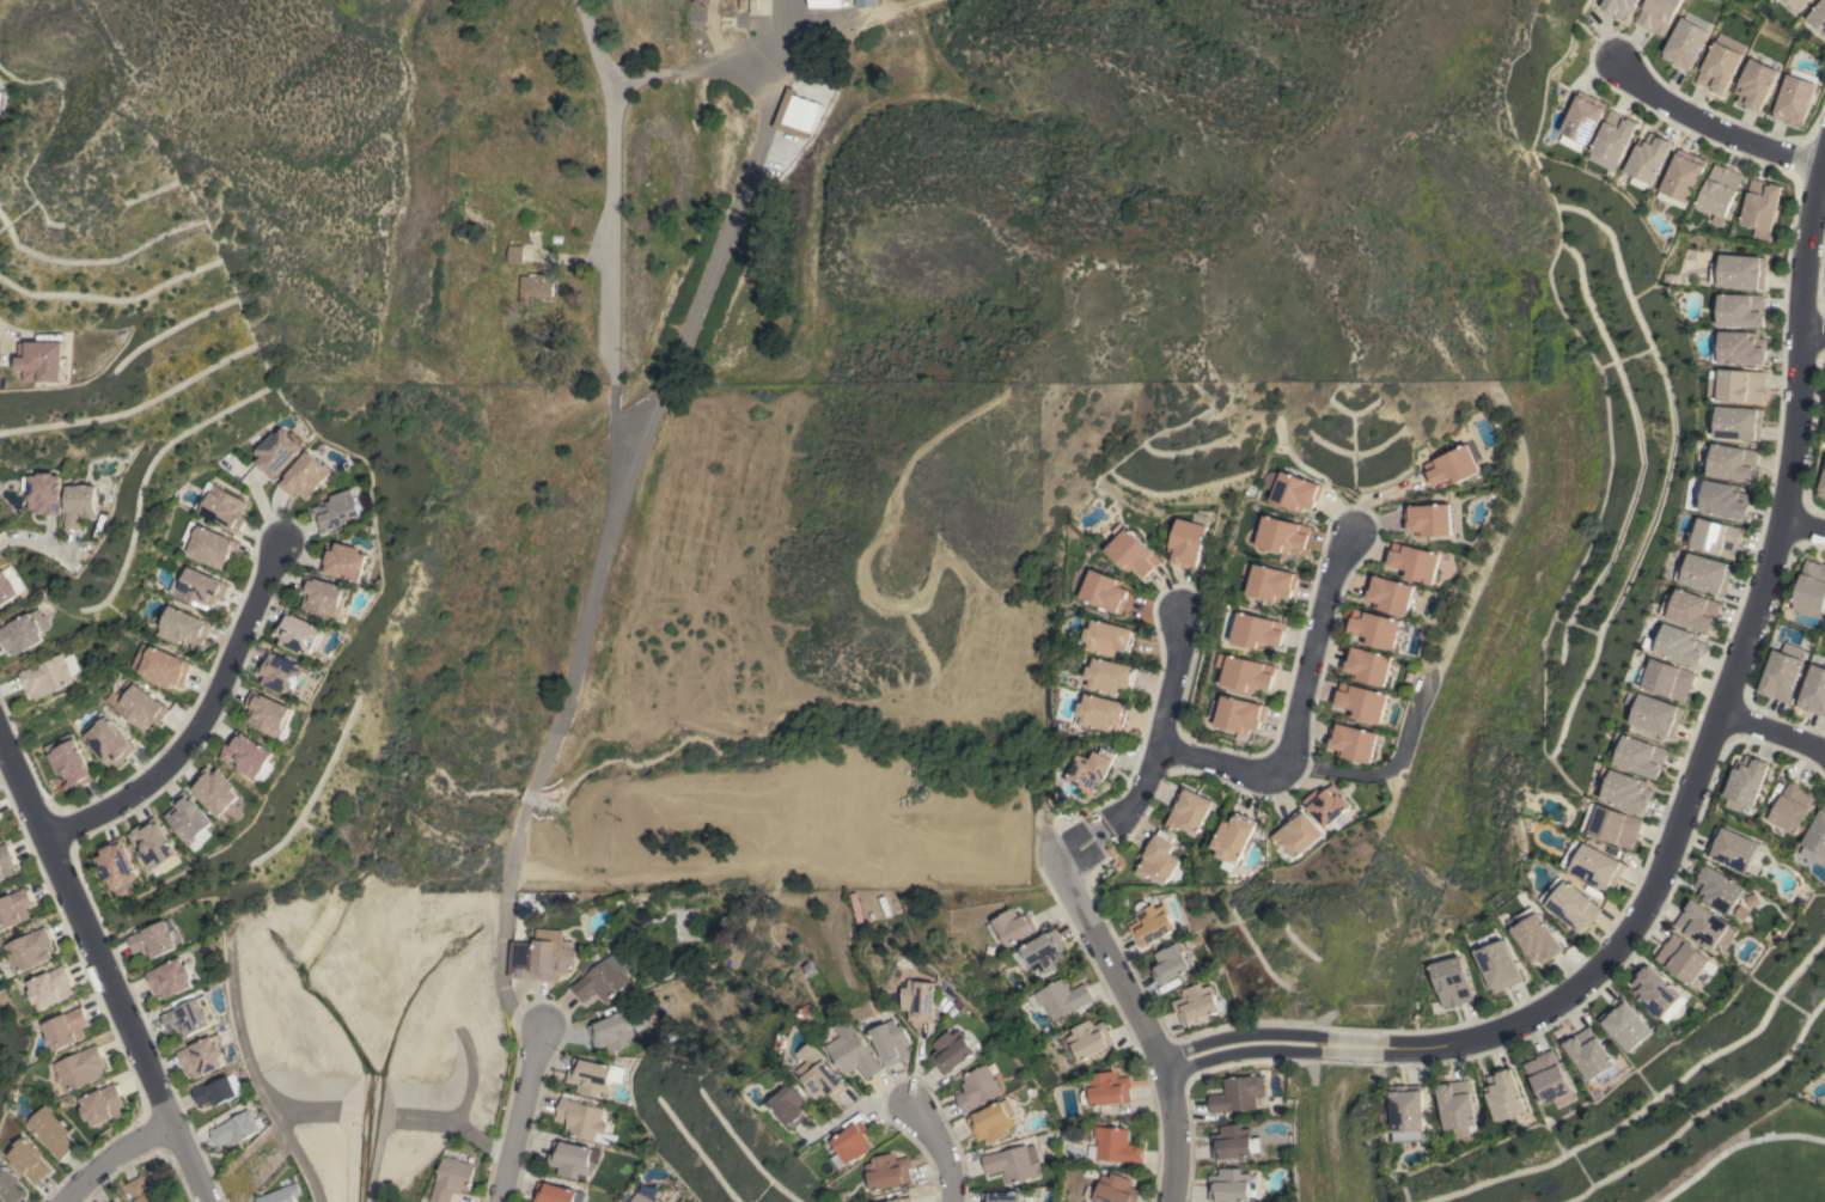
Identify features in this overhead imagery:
building: (865, 2)
building: (824, 4)
building: (1797, 4)
building: (1616, 6)
building: (1656, 14)
building: (1818, 16)
building: (1685, 41)
building: (1720, 63)
road: (694, 67)
building: (1754, 84)
building: (1794, 97)
building: (788, 112)
building: (1580, 121)
road: (1714, 130)
building: (1613, 135)
building: (1648, 159)
building: (1683, 177)
power tower: (1282, 178)
building: (1720, 191)
building: (1760, 206)
road: (725, 231)
building: (514, 254)
building: (1739, 270)
building: (535, 286)
building: (1741, 309)
road: (1812, 334)
road: (5, 338)
building: (1739, 347)
building: (39, 360)
building: (1737, 385)
building: (1739, 422)
building: (276, 450)
building: (1731, 462)
building: (1452, 465)
building: (304, 476)
building: (1821, 486)
building: (1290, 490)
building: (43, 493)
building: (1725, 499)
building: (79, 504)
building: (220, 506)
building: (337, 511)
building: (1428, 519)
road: (606, 529)
road: (1802, 530)
building: (1281, 533)
building: (1716, 537)
building: (1186, 541)
road: (42, 542)
building: (208, 544)
building: (1130, 551)
building: (348, 561)
building: (1414, 562)
power tower: (892, 568)
building: (1705, 573)
building: (1271, 582)
building: (8, 585)
building: (199, 588)
building: (1811, 588)
building: (1104, 591)
building: (1388, 594)
building: (324, 596)
building: (1692, 609)
building: (183, 627)
building: (1374, 629)
building: (1257, 630)
building: (24, 631)
building: (301, 633)
building: (1107, 636)
building: (1680, 645)
building: (1367, 665)
building: (160, 666)
building: (1246, 672)
building: (1781, 672)
building: (286, 673)
building: (1106, 675)
building: (47, 677)
building: (1667, 678)
building: (1813, 690)
building: (1361, 702)
building: (136, 706)
road: (1722, 706)
road: (1292, 708)
building: (1101, 712)
building: (1655, 713)
building: (269, 714)
building: (1239, 714)
road: (196, 722)
road: (1771, 736)
building: (106, 739)
building: (1353, 742)
road: (1154, 753)
building: (1638, 755)
building: (250, 756)
building: (67, 762)
building: (1091, 770)
road: (8, 776)
building: (1745, 781)
building: (1625, 789)
building: (215, 791)
building: (1326, 804)
building: (1793, 807)
building: (1188, 811)
building: (189, 817)
power tower: (629, 819)
building: (1612, 824)
building: (1296, 834)
building: (202, 840)
building: (1232, 840)
building: (1814, 841)
building: (157, 846)
building: (1732, 848)
building: (1160, 860)
building: (5, 861)
building: (1594, 865)
building: (118, 866)
building: (1717, 889)
building: (1571, 904)
power tower: (536, 907)
building: (13, 908)
building: (1150, 925)
building: (1012, 926)
building: (1703, 926)
building: (1536, 935)
building: (155, 939)
building: (28, 950)
building: (1040, 952)
building: (538, 958)
building: (1680, 958)
building: (1170, 964)
building: (1499, 964)
road: (108, 966)
building: (170, 978)
building: (600, 980)
building: (1453, 981)
building: (49, 988)
building: (1656, 993)
building: (1058, 997)
building: (922, 1000)
building: (1195, 1003)
building: (190, 1017)
road: (1143, 1023)
building: (1624, 1025)
building: (65, 1029)
building: (611, 1032)
building: (1085, 1041)
building: (893, 1042)
road: (1244, 1047)
road: (1351, 1047)
building: (854, 1050)
building: (952, 1050)
building: (1589, 1055)
building: (202, 1056)
building: (79, 1068)
building: (592, 1076)
building: (824, 1078)
building: (1548, 1079)
building: (978, 1088)
building: (1106, 1090)
building: (218, 1091)
building: (1237, 1093)
building: (1502, 1094)
building: (102, 1104)
road: (861, 1104)
building: (793, 1105)
building: (1457, 1108)
building: (1405, 1113)
road: (518, 1119)
building: (584, 1121)
building: (993, 1121)
building: (236, 1128)
building: (49, 1133)
building: (1234, 1142)
building: (853, 1145)
building: (1112, 1145)
road: (1732, 1146)
road: (936, 1147)
road: (115, 1157)
building: (573, 1159)
building: (28, 1160)
park: (1744, 1160)
building: (1012, 1163)
building: (889, 1171)
building: (452, 1179)
building: (8, 1185)
building: (1228, 1185)
building: (1116, 1189)
building: (142, 1190)
building: (281, 1194)
building: (555, 1194)
building: (1001, 1196)
building: (641, 1198)
building: (903, 1200)
building: (114, 1201)
building: (116, 1201)

